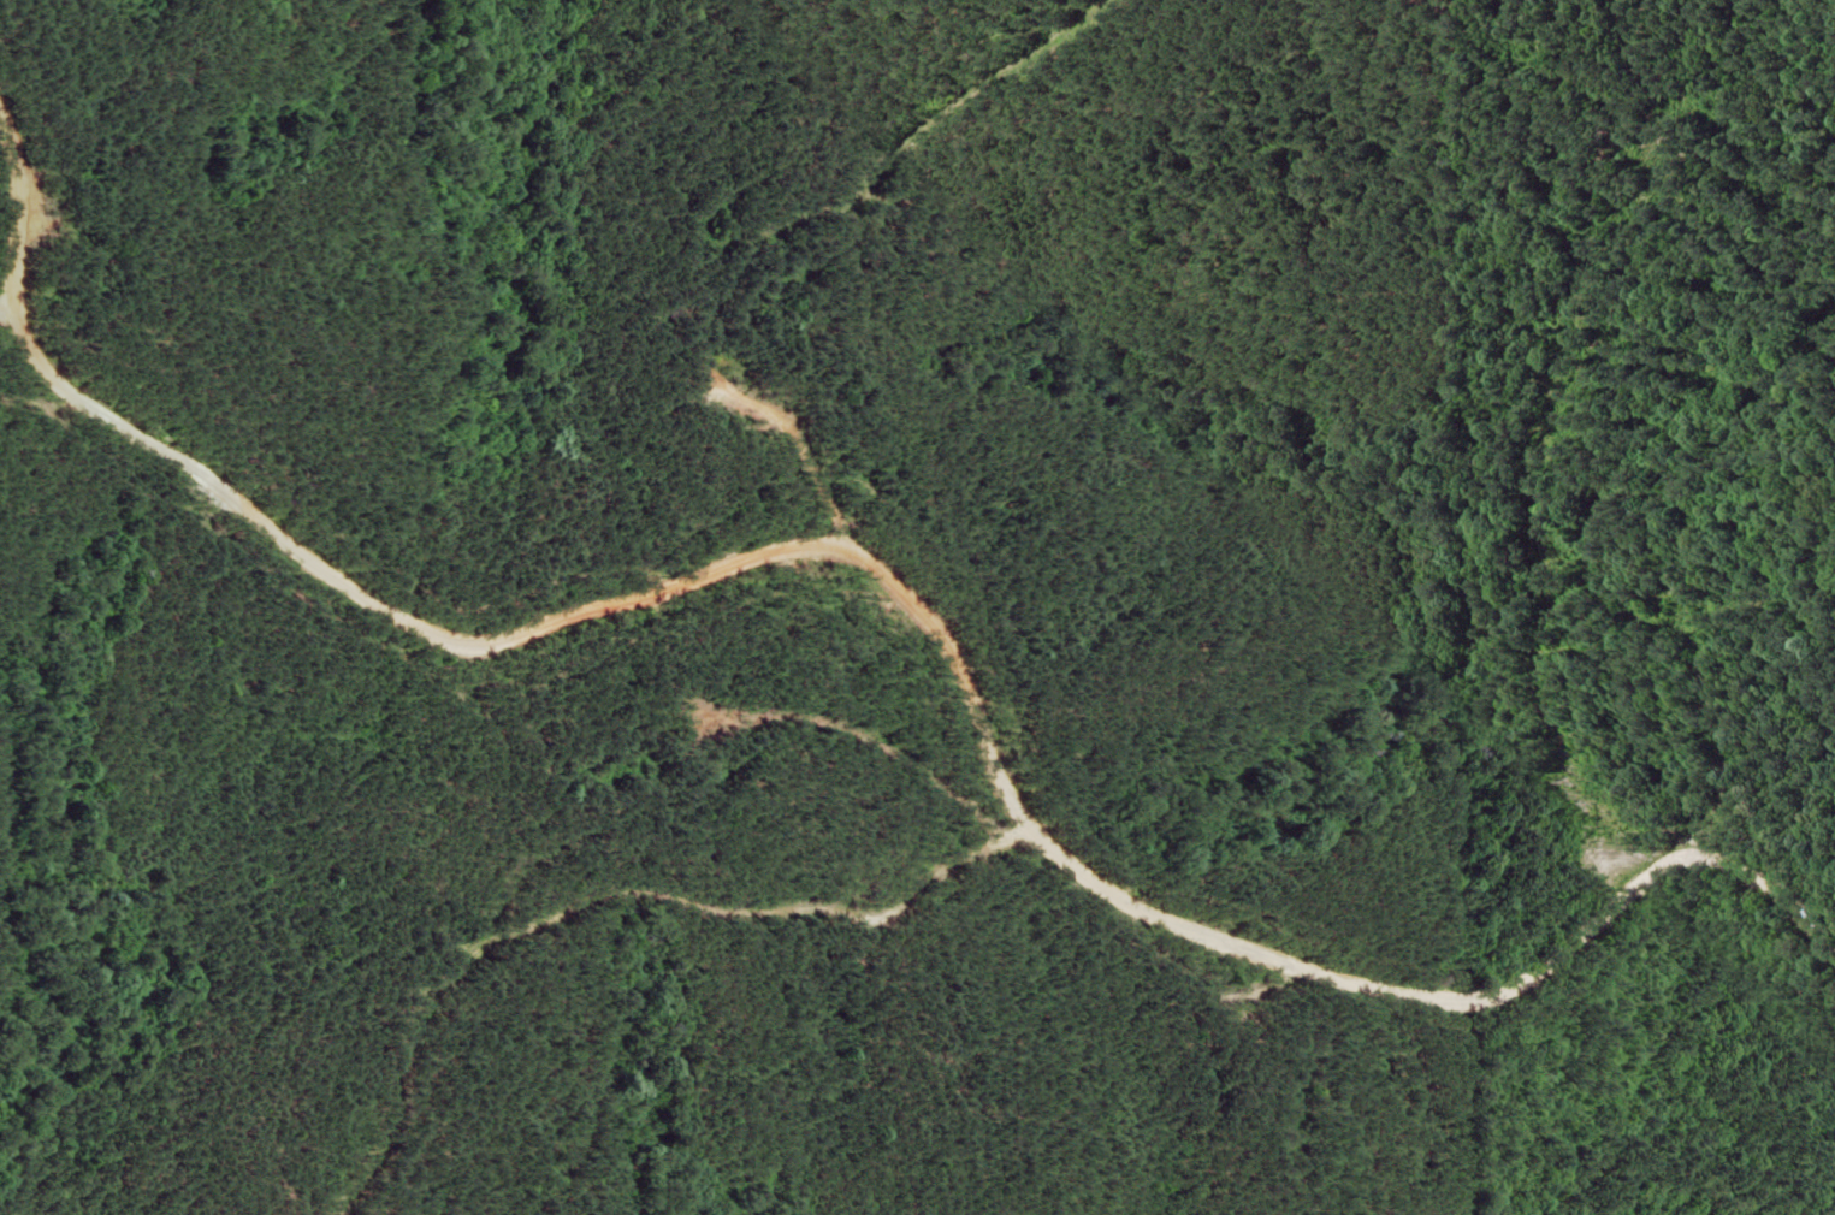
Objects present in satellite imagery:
road: (898, 626)

